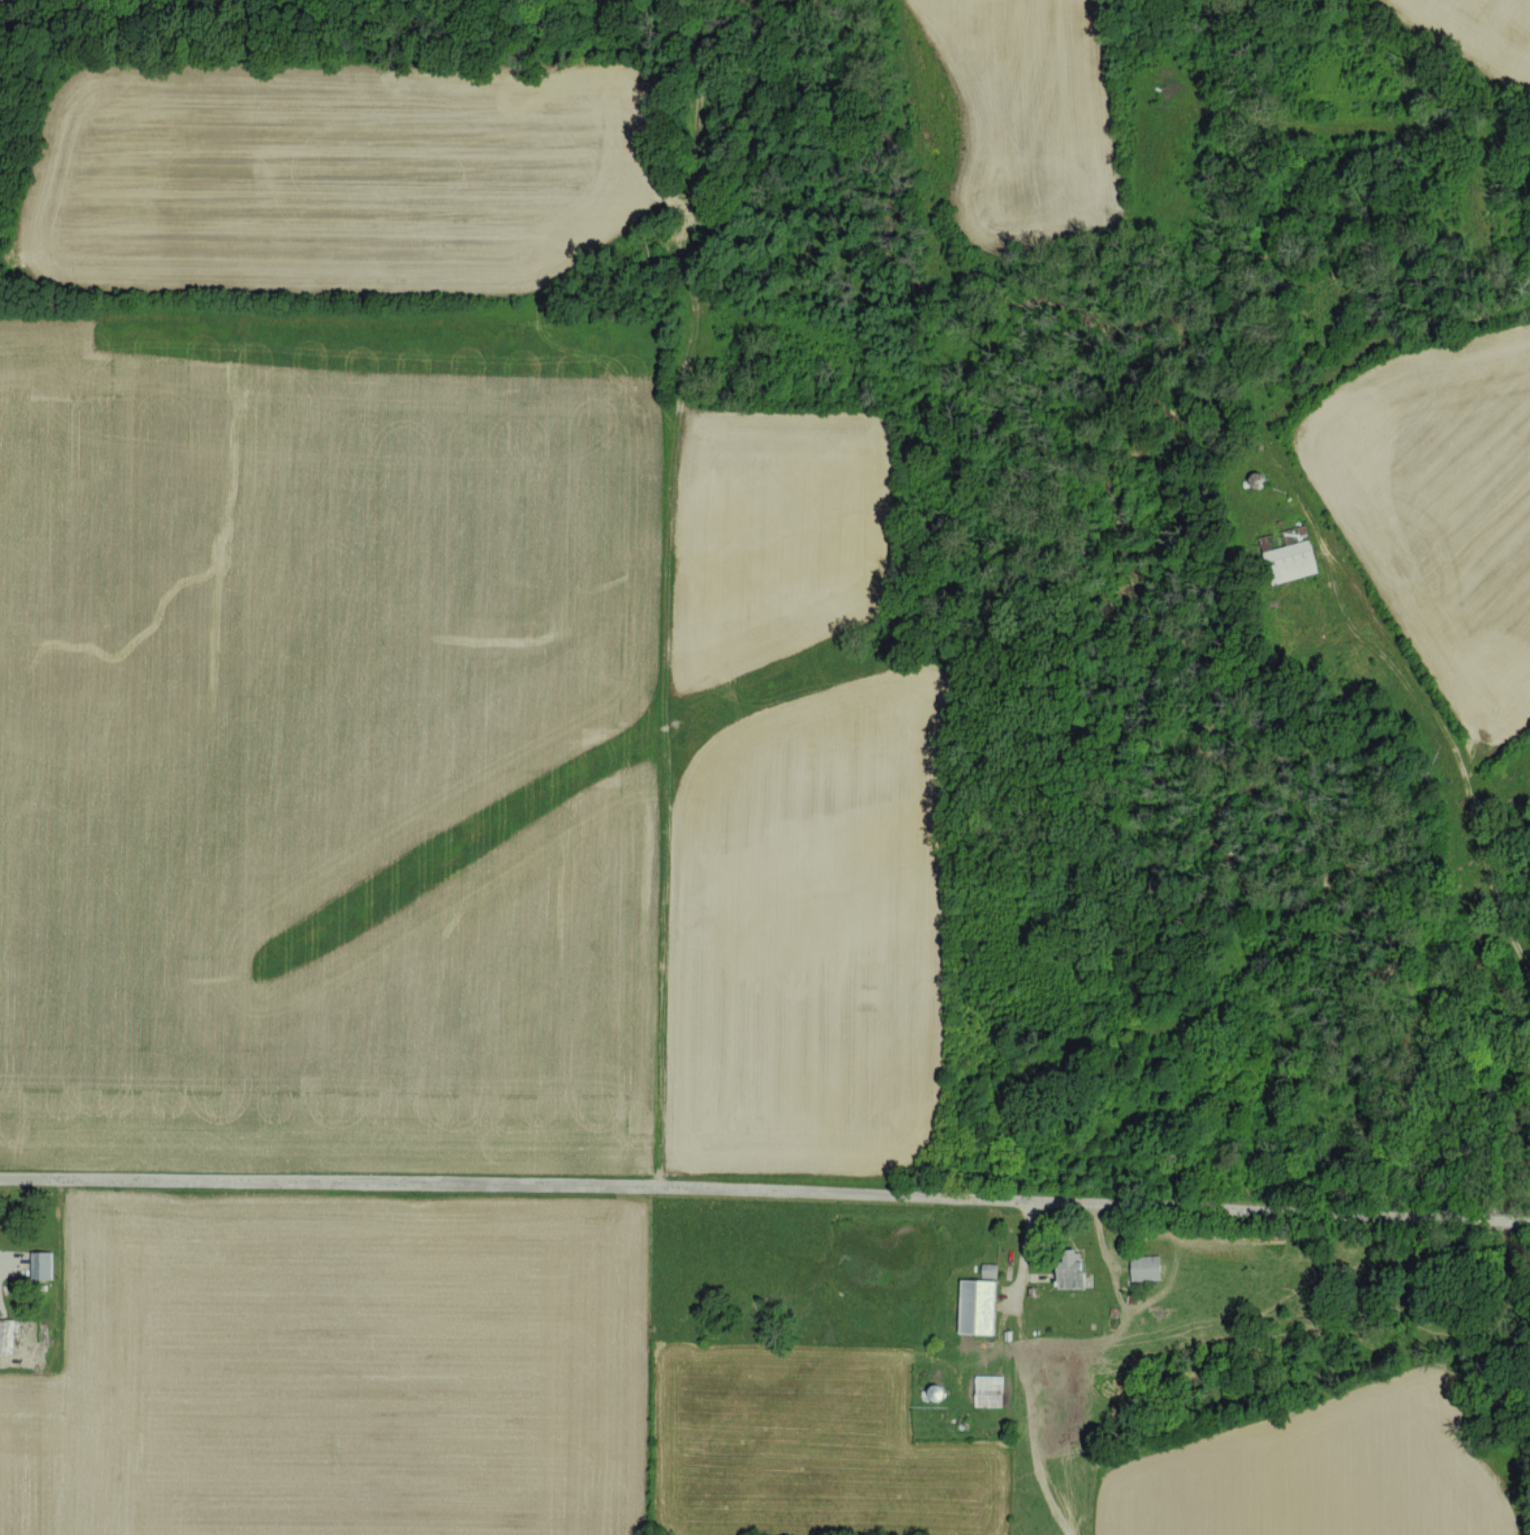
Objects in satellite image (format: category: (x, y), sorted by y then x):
road: (765, 1191)
road: (1018, 1253)
building: (42, 1264)
building: (1147, 1266)
building: (1072, 1267)
building: (990, 1268)
building: (979, 1305)
building: (990, 1384)

